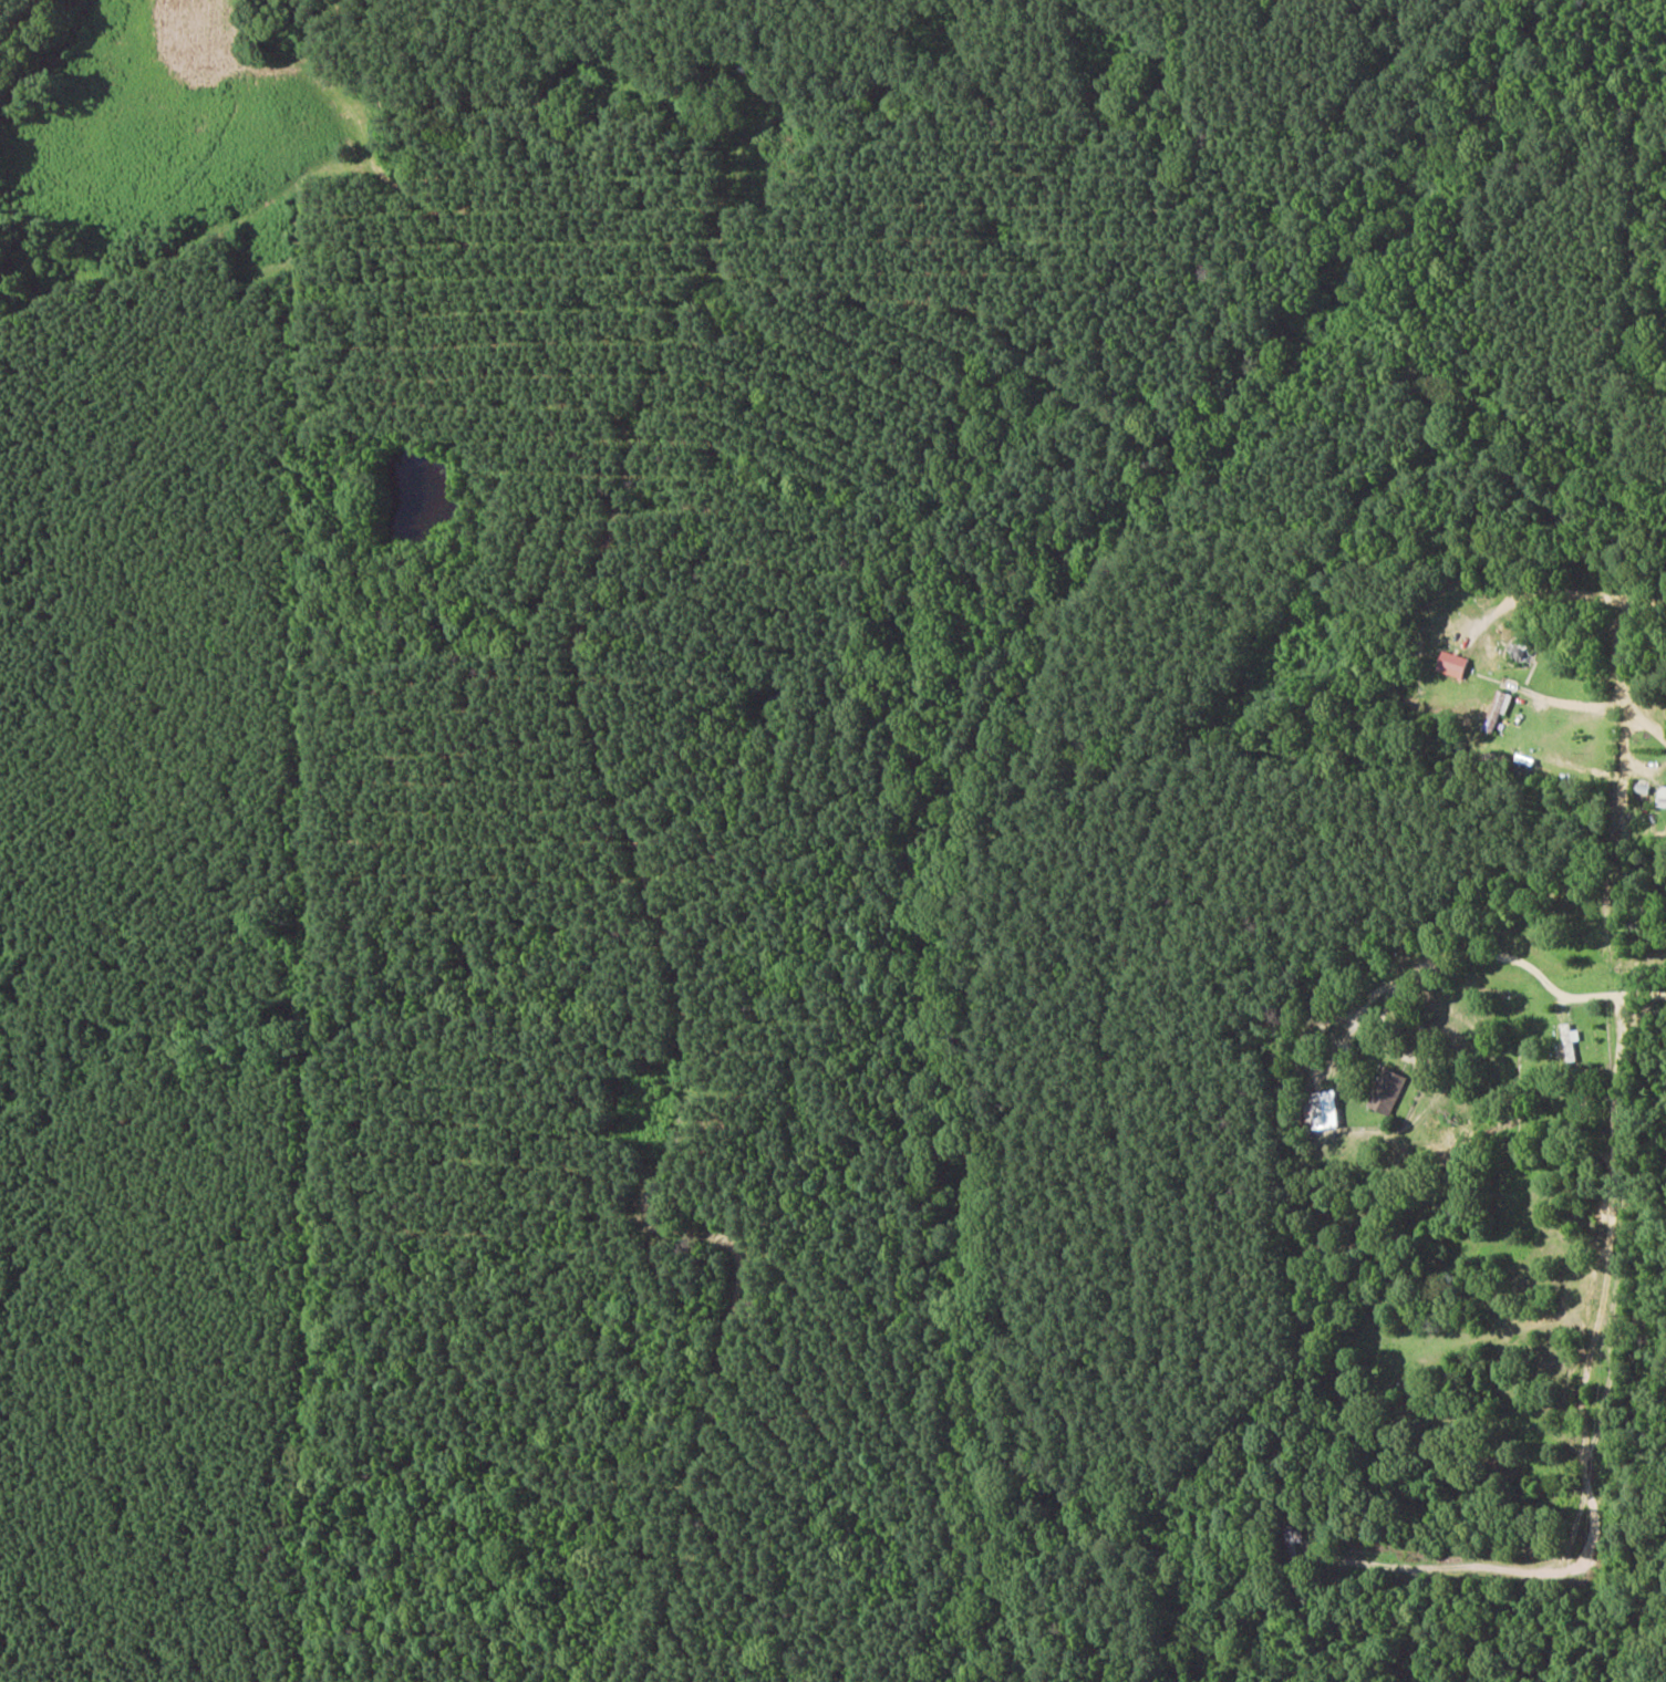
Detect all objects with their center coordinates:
road: (1541, 590)
road: (1651, 598)
building: (1453, 664)
road: (1620, 675)
road: (1575, 705)
building: (1497, 710)
road: (1624, 744)
building: (1662, 797)
road: (1618, 994)
building: (1571, 1040)
building: (1388, 1091)
building: (1323, 1108)

